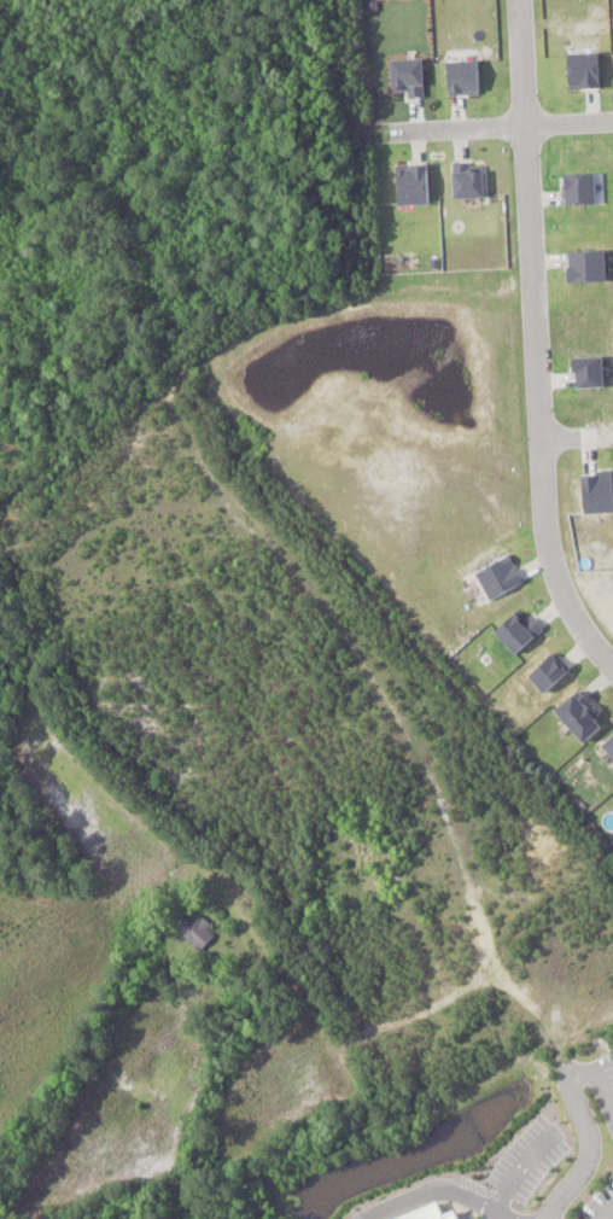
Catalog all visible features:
road: (501, 127)
road: (535, 344)
road: (576, 434)
building: (582, 716)
building: (198, 931)
road: (586, 1145)
building: (434, 1213)

